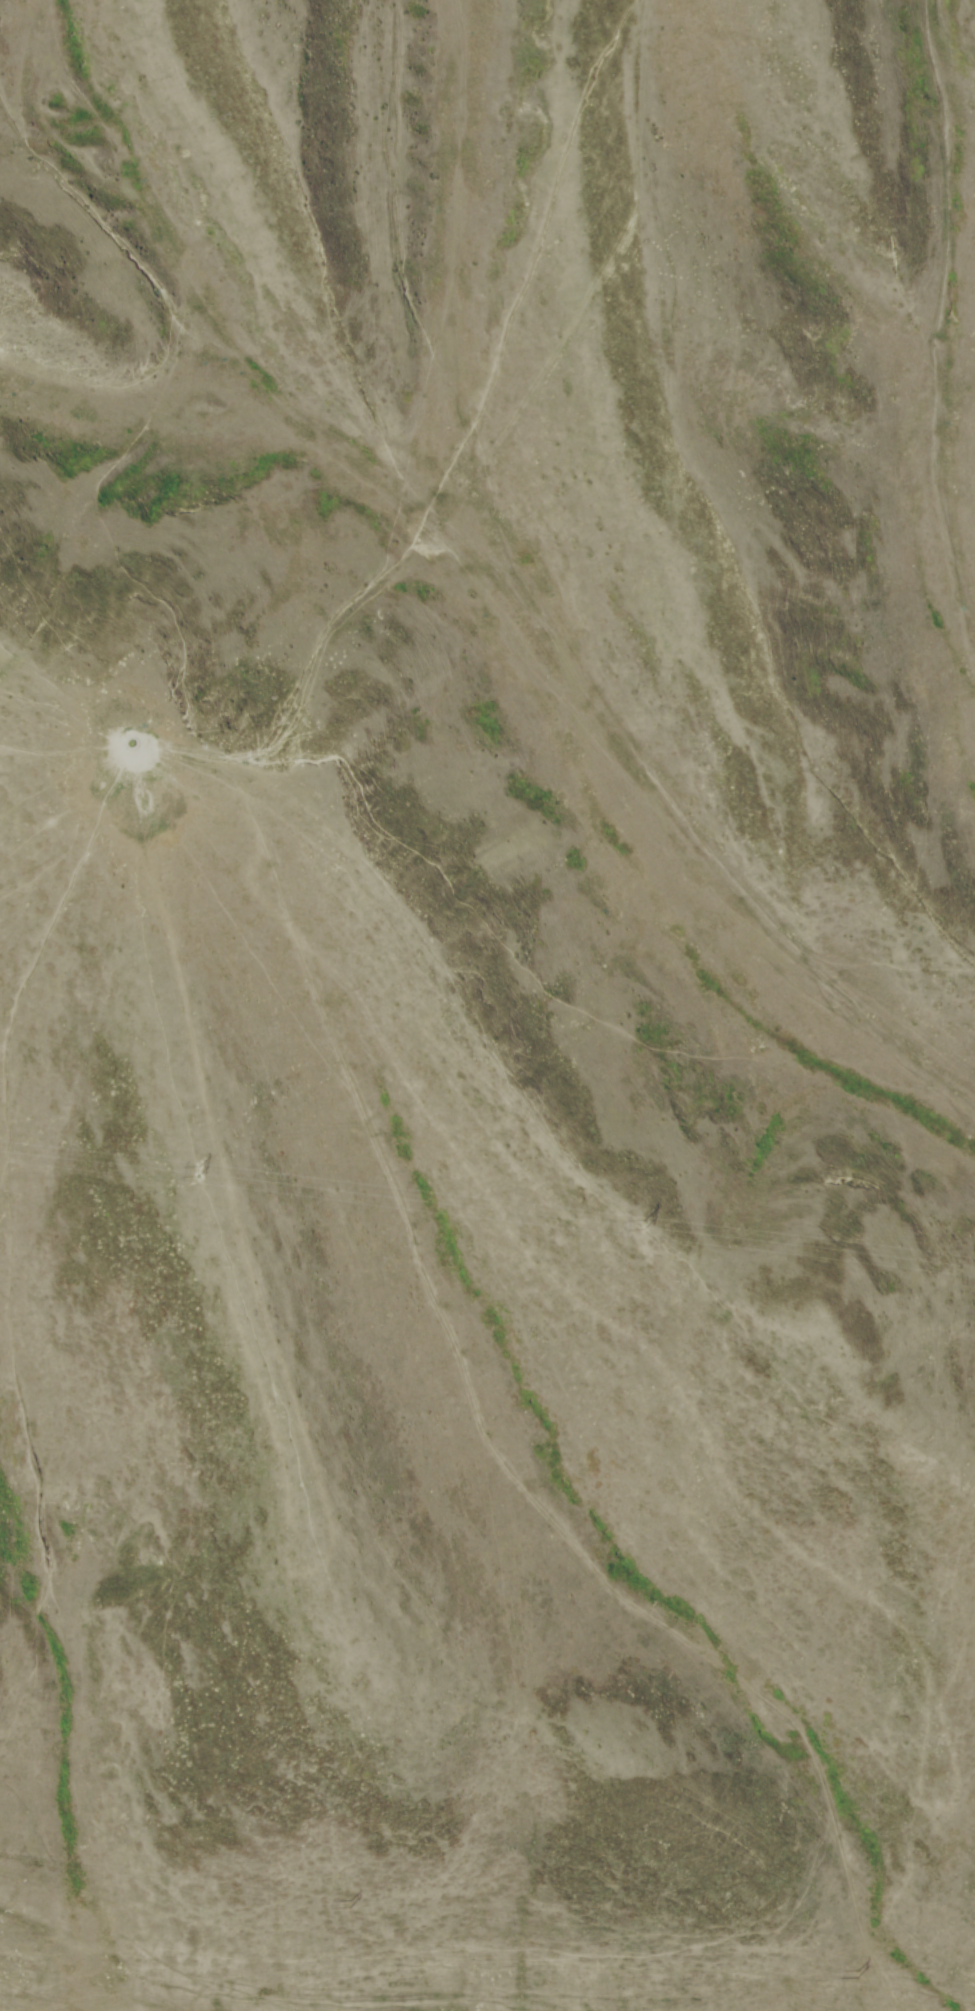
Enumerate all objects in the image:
power tower: (201, 1172)
power tower: (644, 1226)

